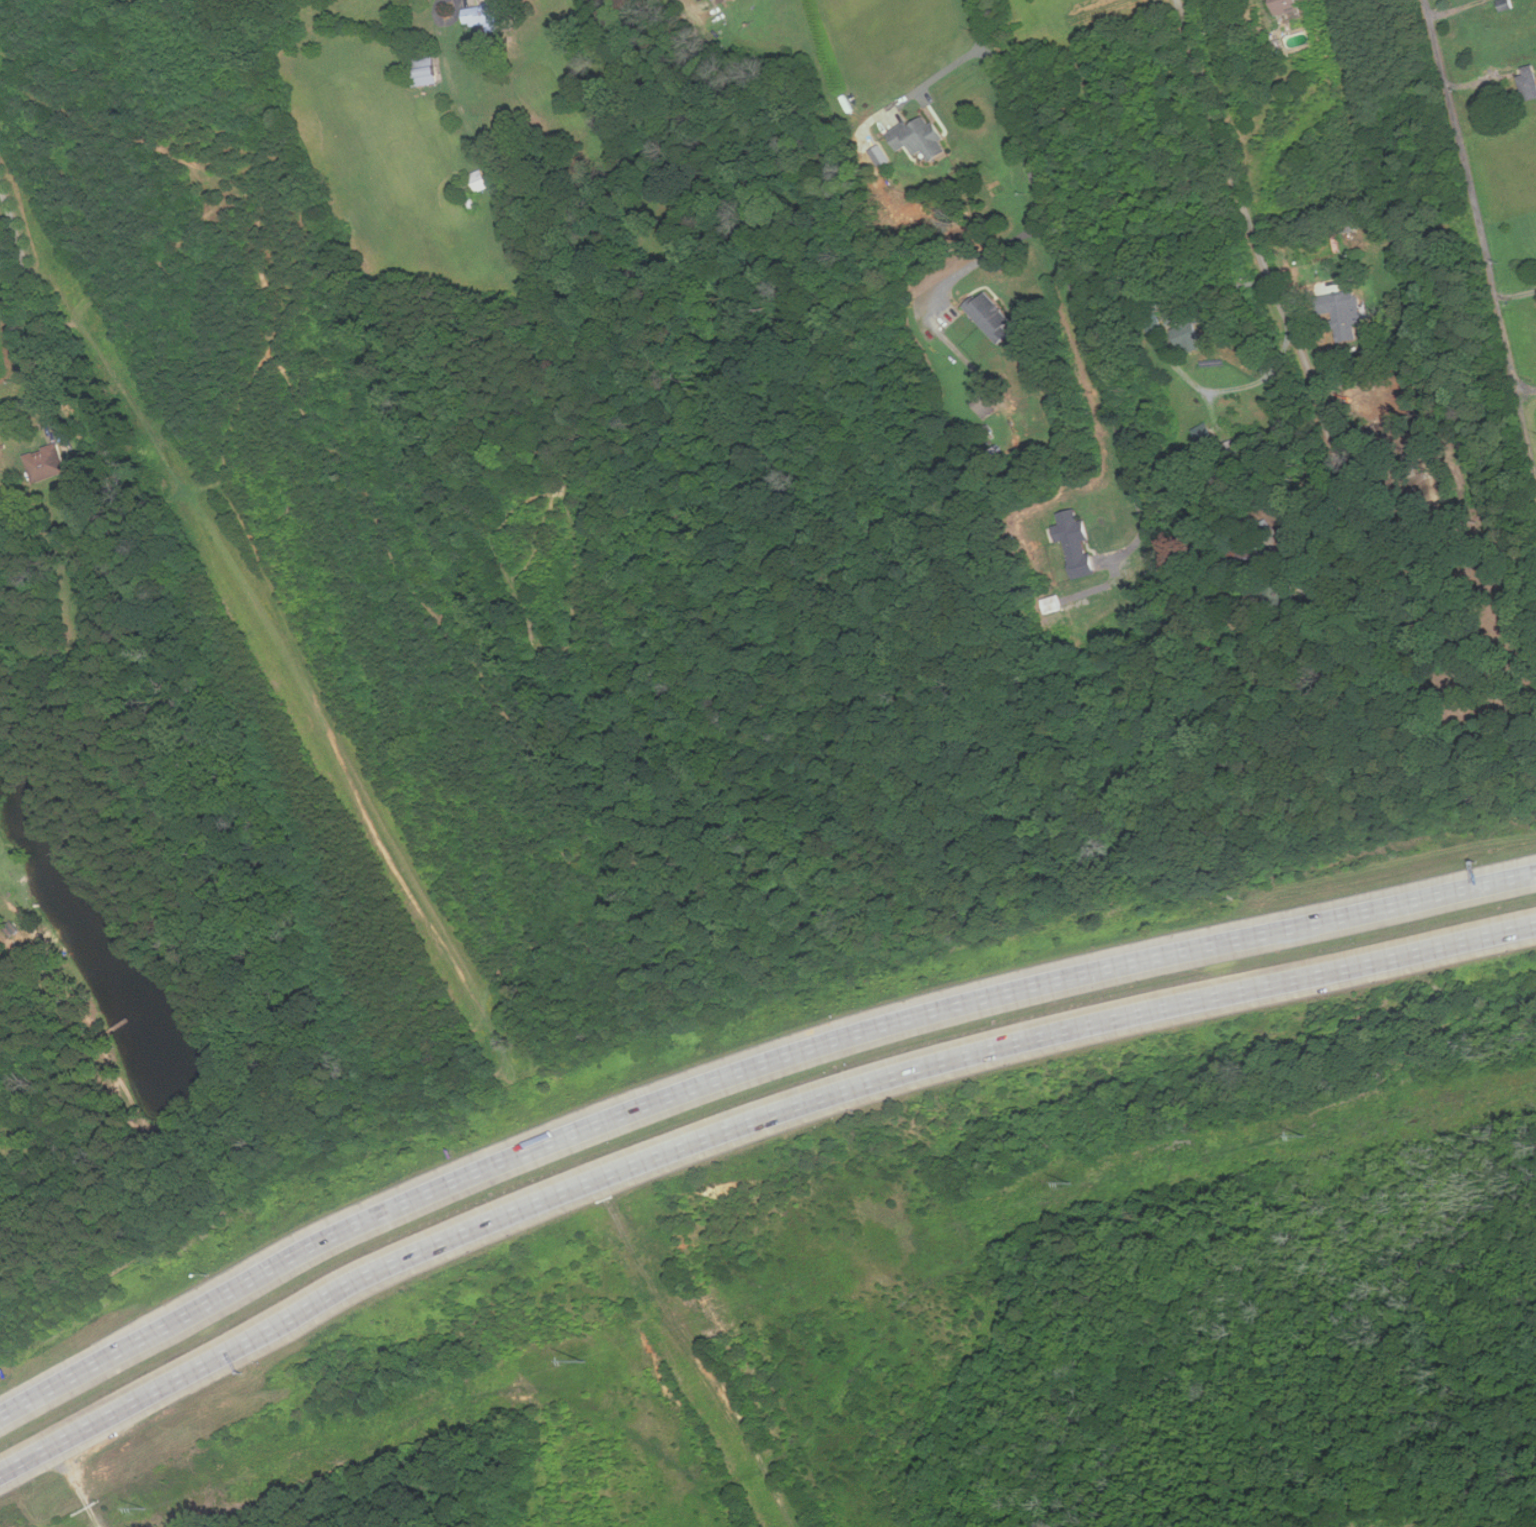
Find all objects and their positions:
building: (723, 0)
building: (1505, 5)
road: (694, 6)
building: (1286, 6)
building: (491, 14)
road: (447, 17)
building: (426, 72)
building: (1528, 82)
building: (919, 138)
building: (478, 182)
road: (1483, 234)
road: (1260, 252)
road: (986, 257)
road: (1059, 257)
road: (1516, 295)
road: (33, 307)
building: (1343, 313)
building: (990, 316)
building: (1186, 336)
road: (1223, 389)
road: (1528, 395)
building: (984, 405)
building: (1204, 435)
building: (48, 462)
building: (1075, 543)
road: (1312, 599)
road: (294, 649)
road: (742, 1074)
road: (741, 1127)
road: (77, 1486)

